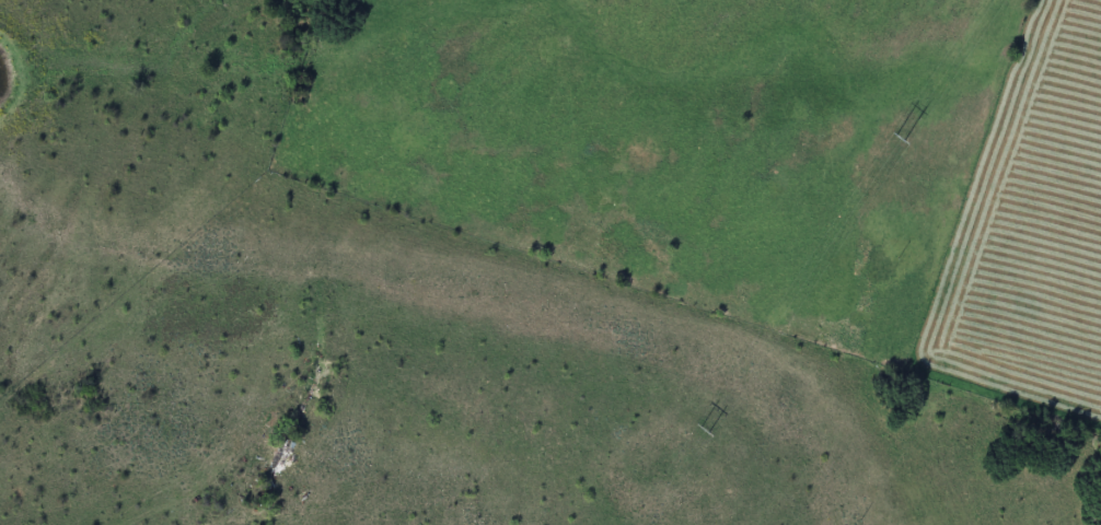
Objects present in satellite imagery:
power tower: (897, 138)
power tower: (703, 429)

